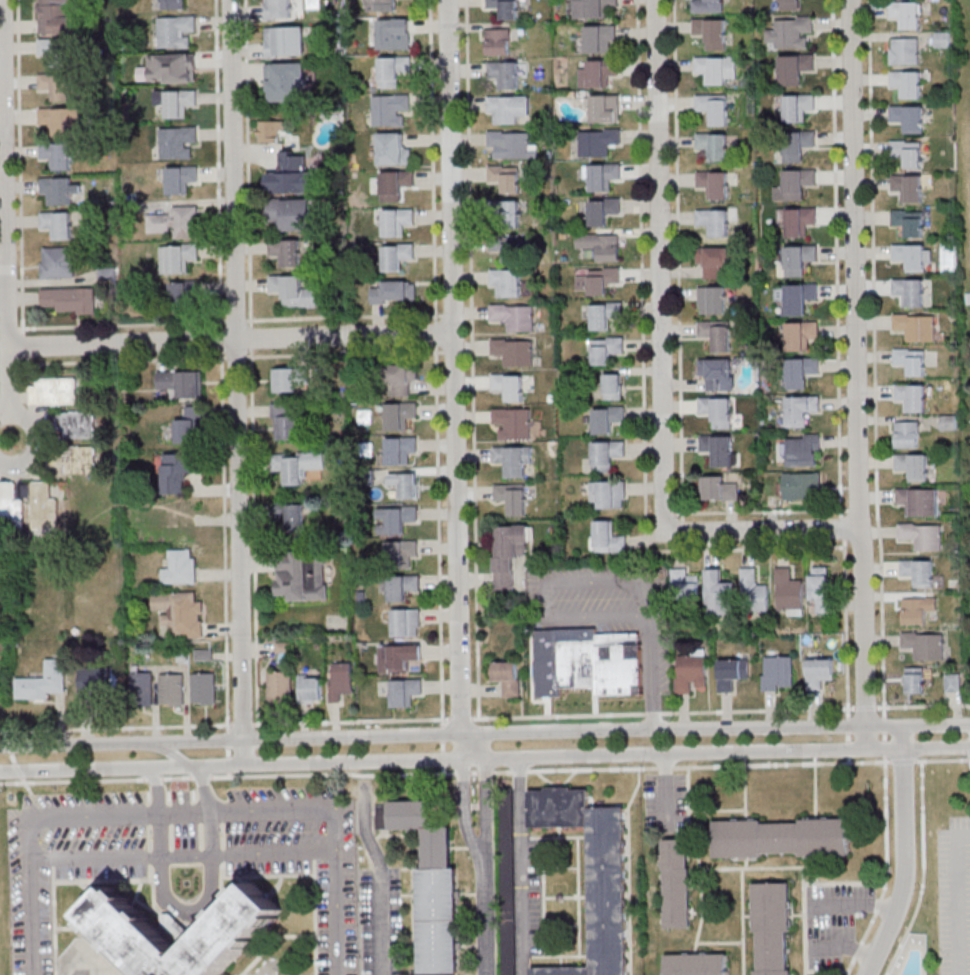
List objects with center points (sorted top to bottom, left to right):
building: (171, 4)
building: (790, 4)
building: (381, 5)
building: (706, 6)
building: (505, 8)
building: (593, 8)
building: (278, 9)
building: (906, 14)
building: (59, 18)
building: (175, 31)
building: (711, 32)
building: (790, 32)
building: (394, 34)
building: (600, 38)
building: (942, 39)
building: (285, 40)
park: (961, 41)
building: (498, 42)
building: (904, 50)
building: (57, 51)
building: (169, 68)
building: (716, 68)
building: (794, 68)
building: (391, 72)
building: (599, 72)
building: (505, 74)
building: (286, 81)
building: (907, 83)
building: (56, 85)
building: (176, 102)
building: (797, 107)
building: (605, 108)
building: (713, 108)
building: (508, 109)
building: (391, 110)
building: (908, 117)
building: (62, 120)
building: (269, 131)
building: (177, 142)
building: (598, 142)
building: (798, 144)
building: (713, 145)
building: (511, 146)
building: (392, 150)
building: (907, 152)
building: (57, 155)
road: (431, 161)
road: (218, 163)
road: (247, 163)
road: (19, 167)
road: (4, 173)
building: (292, 174)
building: (602, 176)
building: (181, 178)
building: (506, 178)
building: (714, 183)
building: (795, 184)
building: (395, 185)
building: (908, 187)
building: (60, 190)
building: (603, 211)
building: (291, 213)
building: (508, 214)
building: (797, 220)
building: (184, 221)
building: (396, 222)
building: (714, 222)
building: (908, 222)
building: (58, 224)
building: (601, 245)
building: (507, 248)
building: (286, 251)
building: (397, 256)
building: (912, 256)
building: (181, 257)
road: (836, 258)
building: (799, 259)
road: (677, 260)
building: (713, 260)
building: (58, 262)
road: (661, 266)
building: (600, 280)
building: (506, 281)
building: (909, 291)
building: (296, 292)
building: (394, 292)
building: (186, 294)
building: (797, 297)
building: (70, 299)
building: (712, 299)
building: (605, 315)
building: (514, 316)
road: (343, 317)
road: (235, 321)
road: (121, 325)
building: (916, 326)
road: (434, 333)
building: (717, 334)
building: (800, 334)
road: (251, 338)
road: (221, 339)
road: (229, 340)
road: (24, 345)
building: (606, 349)
building: (514, 351)
road: (344, 354)
road: (236, 358)
road: (471, 359)
road: (875, 359)
building: (911, 360)
road: (126, 361)
building: (801, 372)
building: (718, 373)
road: (643, 375)
road: (860, 375)
building: (404, 379)
building: (289, 380)
road: (453, 380)
road: (238, 381)
building: (181, 382)
building: (509, 386)
building: (613, 386)
building: (54, 391)
road: (8, 393)
building: (912, 396)
building: (801, 409)
building: (717, 411)
building: (400, 415)
building: (608, 418)
building: (513, 422)
building: (285, 423)
building: (72, 425)
building: (190, 425)
road: (45, 428)
building: (908, 434)
building: (718, 449)
building: (803, 449)
building: (399, 450)
building: (606, 454)
building: (75, 459)
building: (513, 460)
building: (297, 465)
building: (913, 466)
building: (177, 472)
building: (405, 484)
building: (802, 484)
building: (719, 488)
building: (608, 494)
building: (512, 498)
building: (919, 501)
building: (10, 504)
building: (45, 506)
road: (761, 511)
building: (294, 518)
building: (397, 519)
road: (842, 528)
road: (765, 531)
road: (437, 535)
building: (922, 535)
road: (253, 537)
building: (608, 538)
road: (223, 540)
building: (401, 553)
building: (509, 554)
building: (181, 567)
building: (918, 572)
building: (303, 575)
building: (684, 585)
building: (402, 587)
building: (821, 588)
building: (754, 589)
building: (789, 591)
building: (719, 593)
building: (917, 610)
building: (180, 613)
road: (597, 618)
building: (406, 622)
road: (846, 629)
building: (924, 645)
building: (398, 658)
building: (598, 662)
building: (732, 671)
building: (777, 671)
building: (690, 672)
building: (819, 672)
building: (507, 677)
building: (340, 680)
building: (915, 680)
building: (953, 682)
building: (44, 683)
building: (98, 683)
building: (279, 687)
building: (310, 688)
building: (142, 689)
building: (203, 689)
building: (172, 690)
building: (405, 691)
road: (923, 706)
road: (865, 707)
road: (662, 713)
road: (459, 719)
road: (349, 721)
road: (936, 724)
road: (241, 725)
road: (229, 726)
road: (847, 726)
road: (884, 726)
road: (113, 728)
road: (441, 733)
road: (451, 734)
road: (4, 735)
road: (884, 737)
road: (847, 738)
road: (227, 739)
road: (8, 746)
road: (442, 746)
road: (884, 748)
road: (848, 749)
road: (936, 751)
road: (171, 752)
road: (227, 752)
road: (13, 758)
road: (442, 760)
road: (451, 760)
road: (848, 760)
road: (903, 760)
road: (942, 760)
road: (228, 765)
road: (691, 766)
road: (18, 771)
road: (443, 771)
road: (484, 772)
road: (461, 773)
road: (473, 773)
road: (333, 774)
road: (228, 775)
road: (201, 777)
road: (177, 778)
road: (153, 779)
road: (72, 781)
road: (156, 782)
road: (665, 787)
road: (32, 796)
road: (486, 799)
road: (159, 806)
road: (185, 809)
road: (468, 817)
road: (337, 827)
road: (29, 830)
building: (781, 840)
road: (904, 852)
road: (183, 857)
road: (519, 867)
road: (886, 869)
road: (923, 871)
building: (592, 873)
road: (380, 876)
building: (677, 885)
building: (431, 887)
building: (507, 887)
parking lot: (954, 897)
road: (955, 898)
road: (207, 899)
road: (857, 906)
road: (486, 924)
building: (773, 928)
building: (134, 937)
road: (847, 946)
building: (696, 965)

